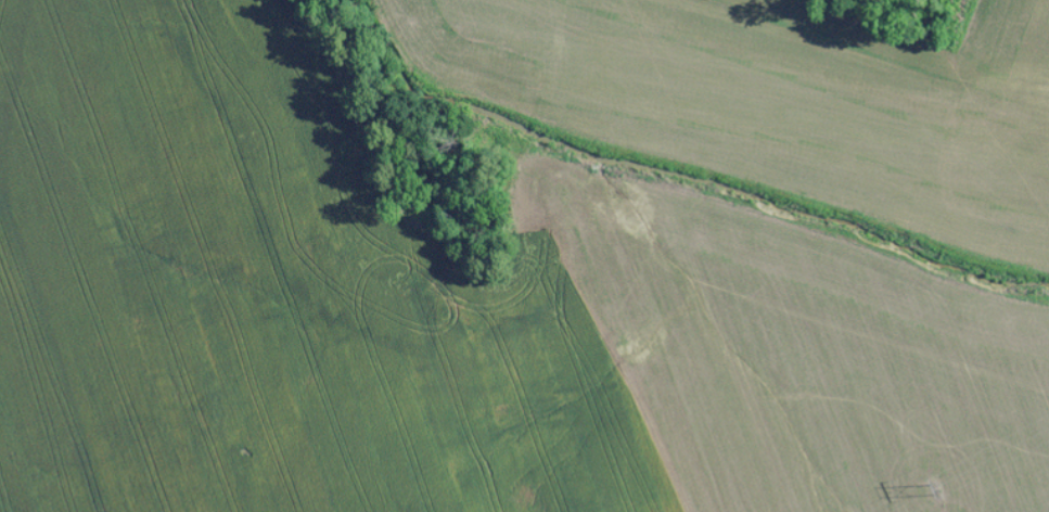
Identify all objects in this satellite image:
power tower: (931, 482)

